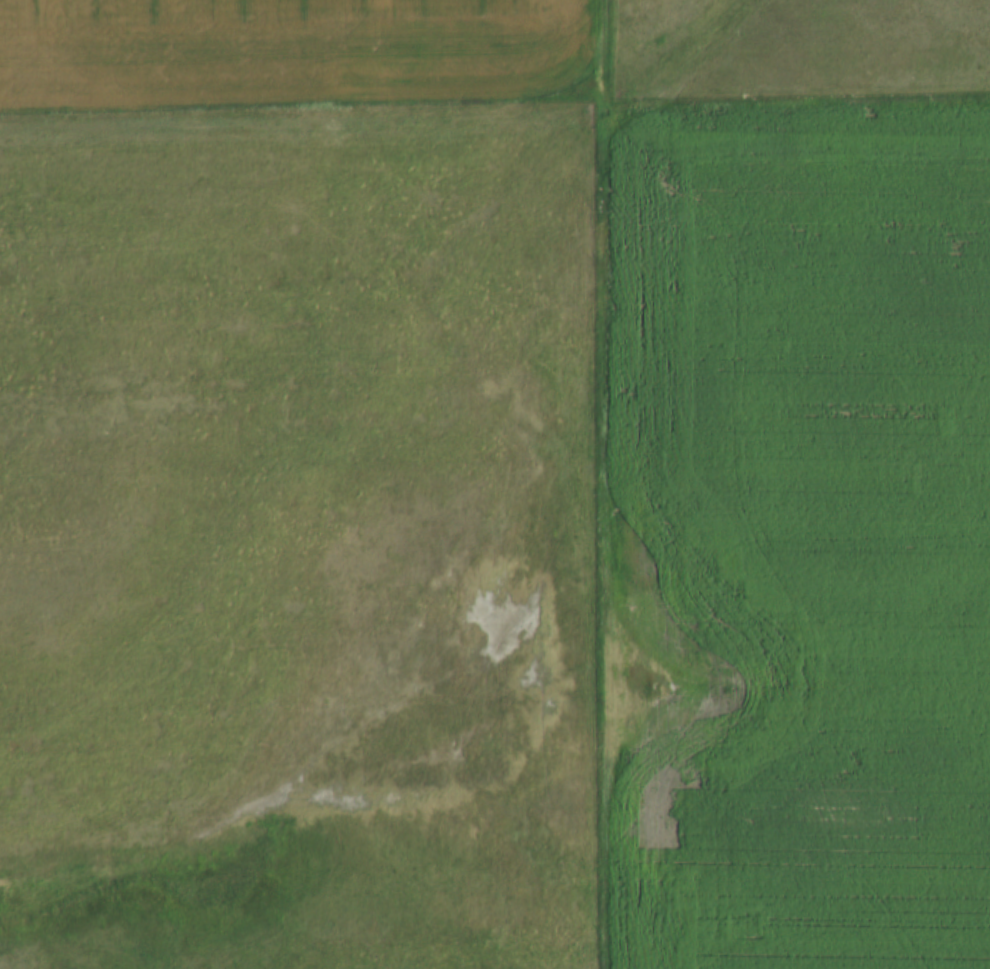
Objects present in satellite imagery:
road: (609, 484)

